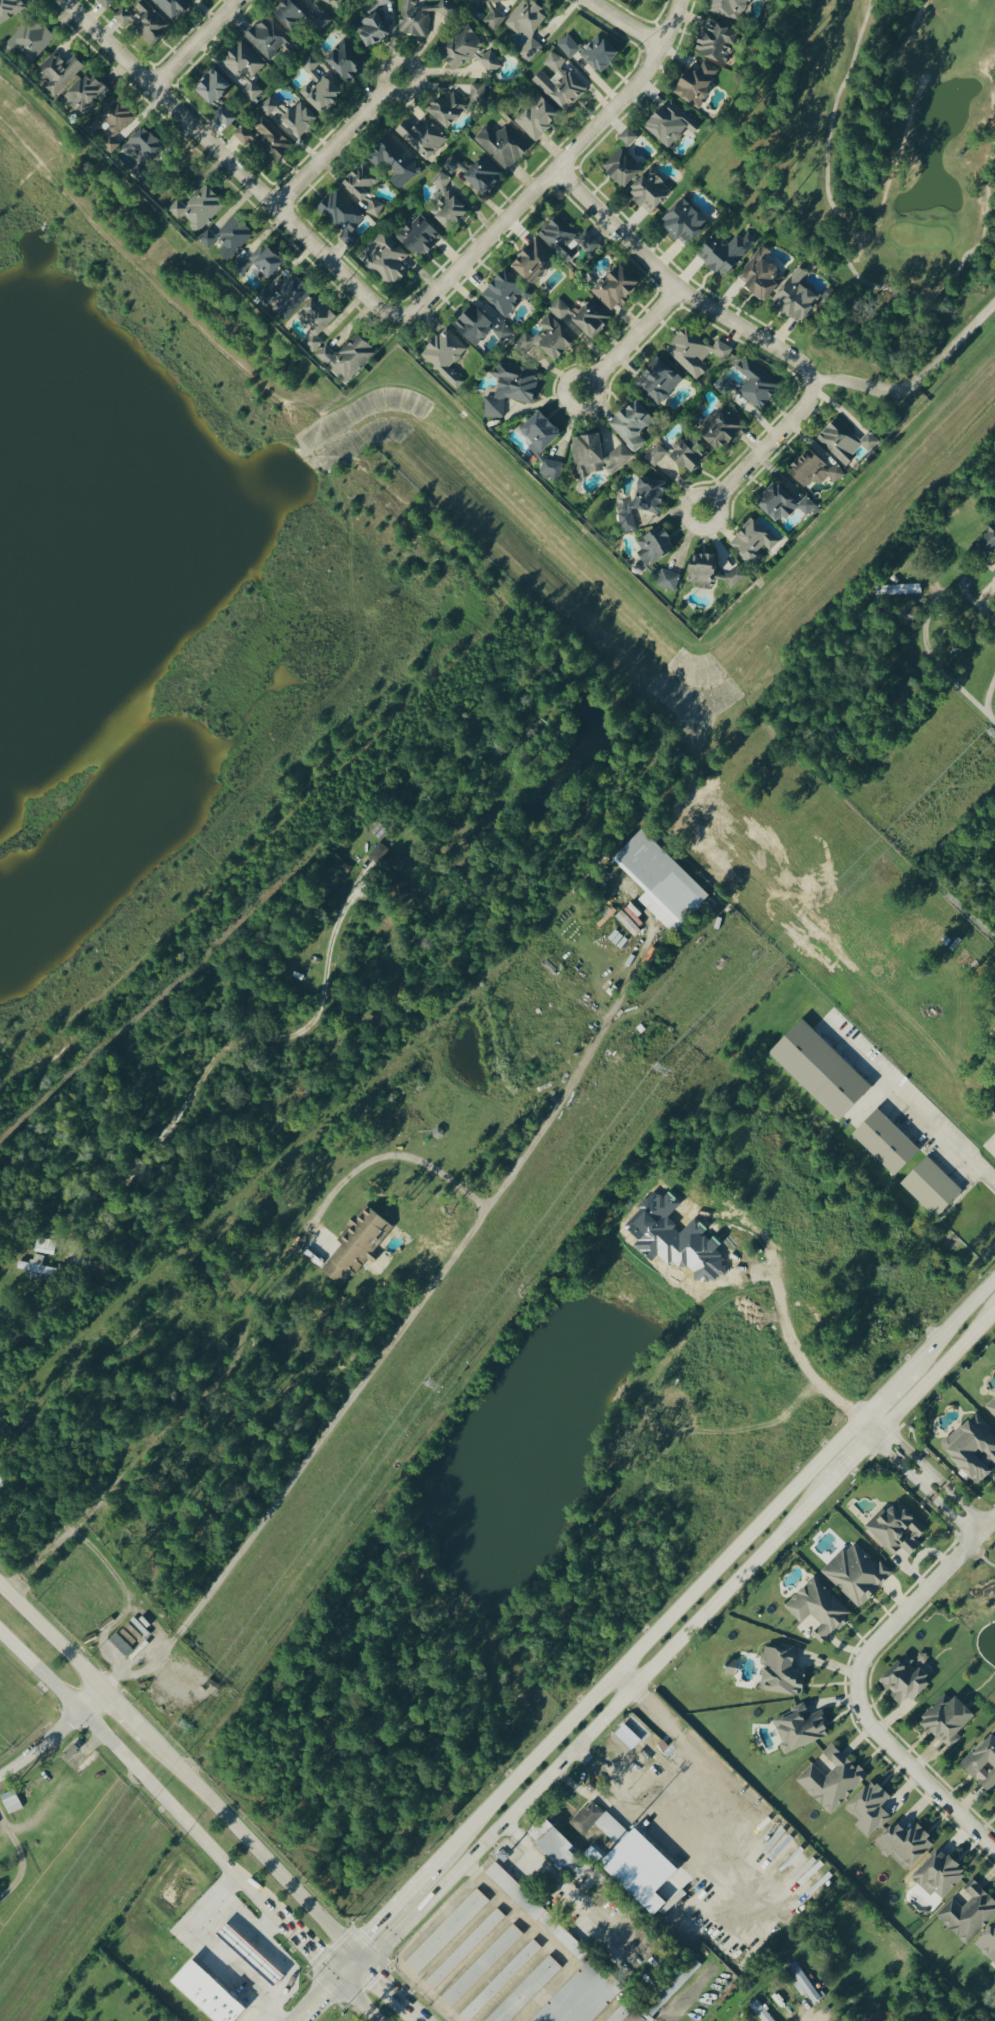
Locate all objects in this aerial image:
building: (457, 0)
building: (650, 0)
building: (107, 3)
building: (333, 3)
building: (173, 8)
building: (732, 9)
building: (9, 10)
building: (487, 12)
building: (291, 17)
building: (420, 18)
building: (144, 23)
road: (623, 24)
building: (379, 25)
building: (527, 28)
building: (268, 40)
building: (32, 42)
building: (718, 42)
road: (197, 44)
building: (568, 48)
building: (468, 53)
building: (600, 56)
building: (347, 63)
building: (244, 71)
building: (59, 74)
building: (561, 84)
building: (698, 86)
building: (214, 88)
building: (324, 95)
building: (86, 96)
building: (456, 105)
building: (292, 118)
building: (539, 121)
building: (112, 125)
building: (670, 126)
building: (423, 138)
building: (628, 139)
building: (264, 141)
park: (866, 143)
road: (340, 144)
building: (504, 147)
building: (143, 152)
road: (229, 161)
building: (395, 164)
building: (451, 166)
building: (623, 170)
road: (556, 173)
building: (484, 177)
building: (651, 193)
building: (447, 205)
building: (198, 211)
building: (342, 218)
building: (684, 225)
building: (420, 238)
building: (229, 240)
building: (566, 240)
road: (847, 251)
building: (729, 254)
building: (387, 260)
building: (268, 264)
building: (534, 264)
building: (762, 277)
building: (617, 289)
building: (288, 296)
building: (506, 296)
building: (593, 322)
building: (319, 323)
building: (474, 327)
building: (503, 334)
road: (751, 334)
building: (554, 335)
road: (631, 344)
building: (697, 355)
building: (446, 359)
building: (347, 360)
road: (916, 381)
building: (659, 383)
building: (758, 386)
building: (724, 388)
building: (511, 389)
building: (633, 426)
building: (721, 430)
building: (542, 436)
building: (847, 443)
building: (599, 456)
building: (690, 456)
building: (552, 470)
building: (816, 473)
building: (786, 503)
building: (645, 506)
building: (755, 541)
building: (657, 546)
building: (703, 572)
building: (735, 578)
building: (668, 581)
road: (929, 650)
road: (992, 720)
power tower: (993, 740)
building: (379, 854)
road: (938, 871)
building: (662, 878)
building: (822, 1072)
power tower: (660, 1075)
road: (909, 1103)
road: (557, 1108)
road: (170, 1122)
building: (887, 1145)
building: (932, 1189)
building: (357, 1246)
building: (37, 1271)
road: (525, 1284)
road: (954, 1321)
road: (389, 1348)
road: (796, 1357)
road: (936, 1370)
power tower: (432, 1388)
road: (888, 1390)
building: (992, 1409)
road: (870, 1424)
road: (906, 1447)
building: (973, 1452)
road: (894, 1459)
road: (850, 1460)
road: (924, 1477)
building: (3, 1484)
road: (958, 1498)
road: (947, 1510)
building: (919, 1516)
building: (897, 1532)
road: (103, 1564)
building: (857, 1576)
road: (915, 1599)
building: (818, 1613)
road: (51, 1636)
building: (127, 1638)
road: (646, 1640)
building: (121, 1646)
road: (159, 1656)
building: (782, 1672)
road: (625, 1679)
building: (908, 1680)
road: (126, 1712)
building: (948, 1720)
power tower: (183, 1726)
road: (595, 1726)
building: (801, 1729)
road: (54, 1732)
road: (664, 1733)
building: (983, 1764)
road: (137, 1772)
road: (919, 1774)
building: (832, 1781)
building: (11, 1802)
building: (871, 1810)
building: (600, 1823)
road: (633, 1824)
road: (250, 1843)
building: (905, 1845)
road: (21, 1860)
building: (641, 1869)
building: (941, 1875)
road: (574, 1892)
building: (602, 1898)
road: (390, 1905)
building: (538, 1913)
building: (969, 1914)
road: (264, 1924)
building: (446, 1933)
road: (544, 1938)
road: (301, 1942)
building: (988, 1944)
traffic signals: (352, 1947)
road: (214, 1948)
road: (268, 1949)
building: (463, 1951)
road: (359, 1954)
road: (341, 1959)
traffic signals: (367, 1962)
building: (480, 1968)
traffic signals: (330, 1971)
road: (355, 1973)
building: (499, 1983)
traffic signals: (343, 1985)
building: (804, 1985)
building: (672, 1987)
road: (397, 1991)
building: (525, 1992)
building: (209, 1994)
road: (308, 1995)
road: (354, 1996)
building: (581, 1996)
road: (324, 2002)
building: (759, 2012)
building: (621, 2014)
building: (739, 2019)

